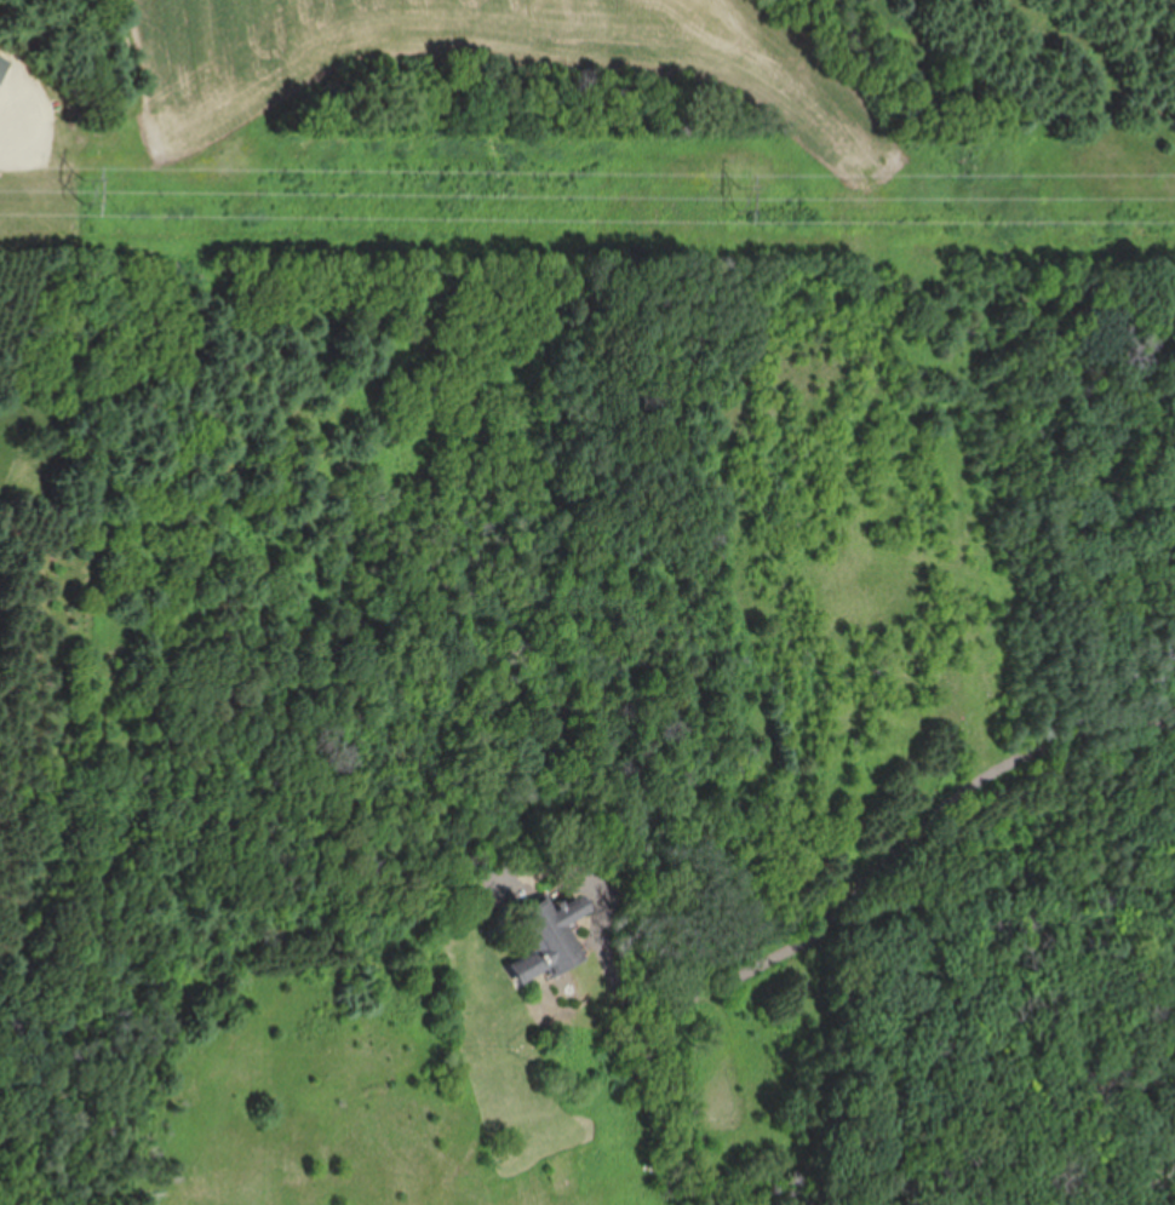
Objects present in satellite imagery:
building: (4, 63)
power tower: (90, 199)
power tower: (743, 210)
road: (907, 834)
building: (549, 935)
road: (609, 964)

